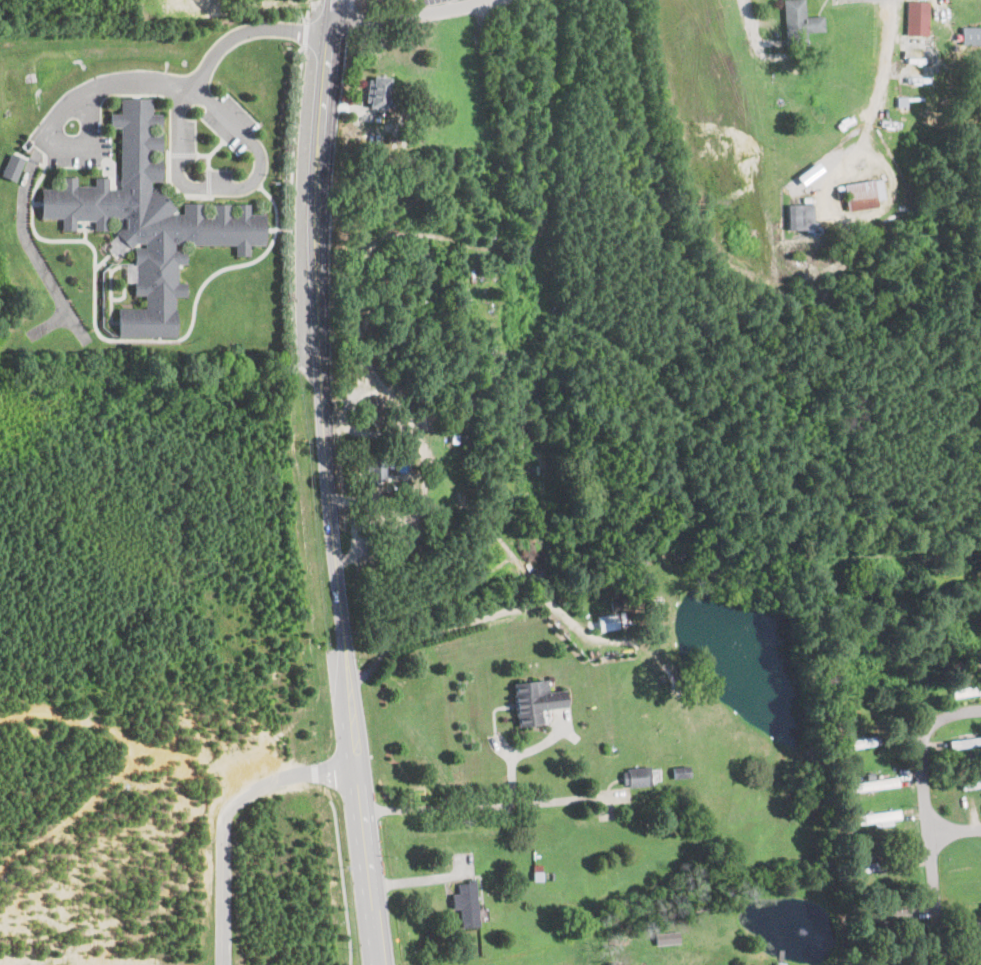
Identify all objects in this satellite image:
building: (175, 4)
road: (404, 14)
building: (915, 18)
building: (797, 23)
road: (303, 33)
building: (970, 35)
road: (885, 58)
road: (136, 83)
building: (377, 91)
road: (858, 151)
building: (11, 166)
road: (232, 186)
building: (860, 194)
road: (289, 207)
building: (797, 216)
building: (148, 221)
road: (276, 229)
road: (123, 338)
building: (377, 471)
building: (398, 480)
road: (326, 483)
building: (607, 621)
road: (467, 624)
building: (966, 689)
building: (534, 700)
building: (868, 739)
building: (964, 742)
building: (680, 771)
building: (636, 775)
building: (972, 781)
building: (872, 782)
road: (558, 799)
road: (456, 804)
building: (876, 816)
road: (224, 817)
road: (933, 819)
road: (959, 831)
building: (880, 864)
road: (343, 883)
building: (466, 903)
building: (665, 937)

